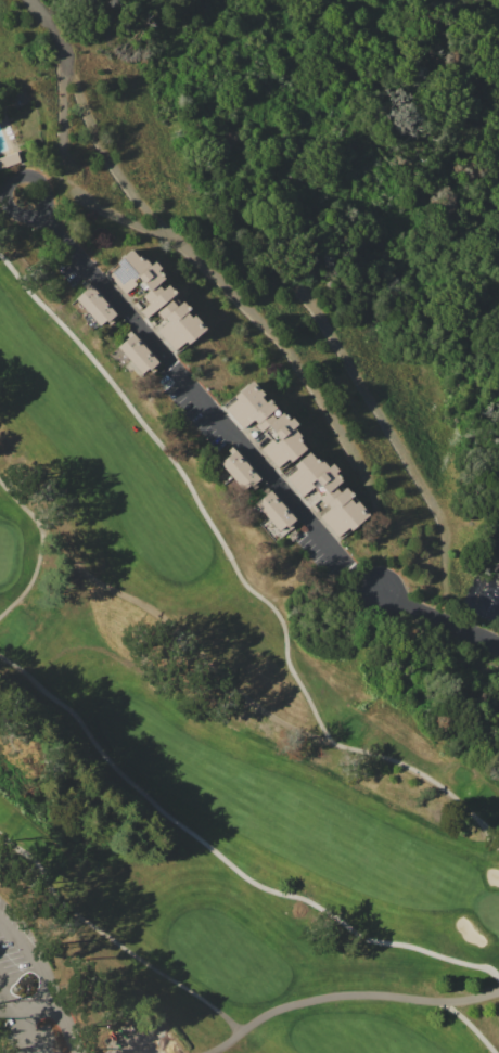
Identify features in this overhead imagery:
road: (61, 92)
road: (101, 149)
building: (9, 159)
road: (20, 213)
building: (139, 280)
building: (140, 285)
building: (93, 305)
road: (268, 321)
building: (177, 325)
building: (135, 354)
building: (265, 423)
road: (251, 455)
building: (238, 470)
building: (337, 493)
building: (273, 515)
park: (205, 759)
road: (30, 958)
road: (9, 998)
road: (35, 1006)
road: (63, 1026)
road: (29, 1032)

